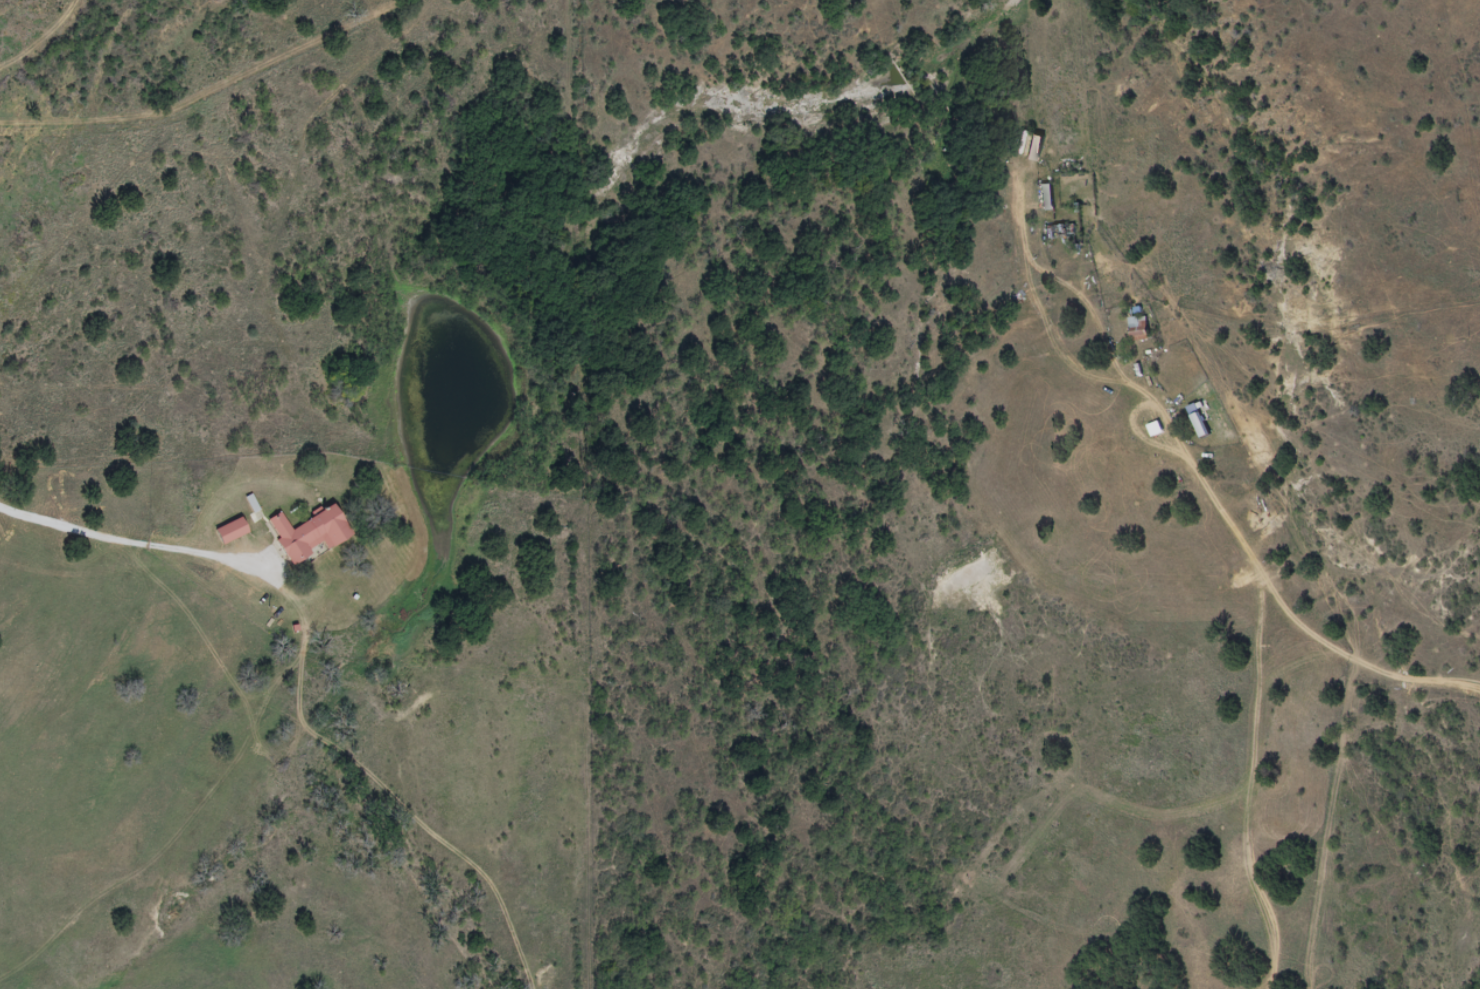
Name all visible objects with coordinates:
building: (1045, 197)
building: (1054, 233)
building: (1138, 328)
building: (1197, 421)
building: (228, 532)
building: (306, 534)
road: (1243, 634)
road: (282, 706)

